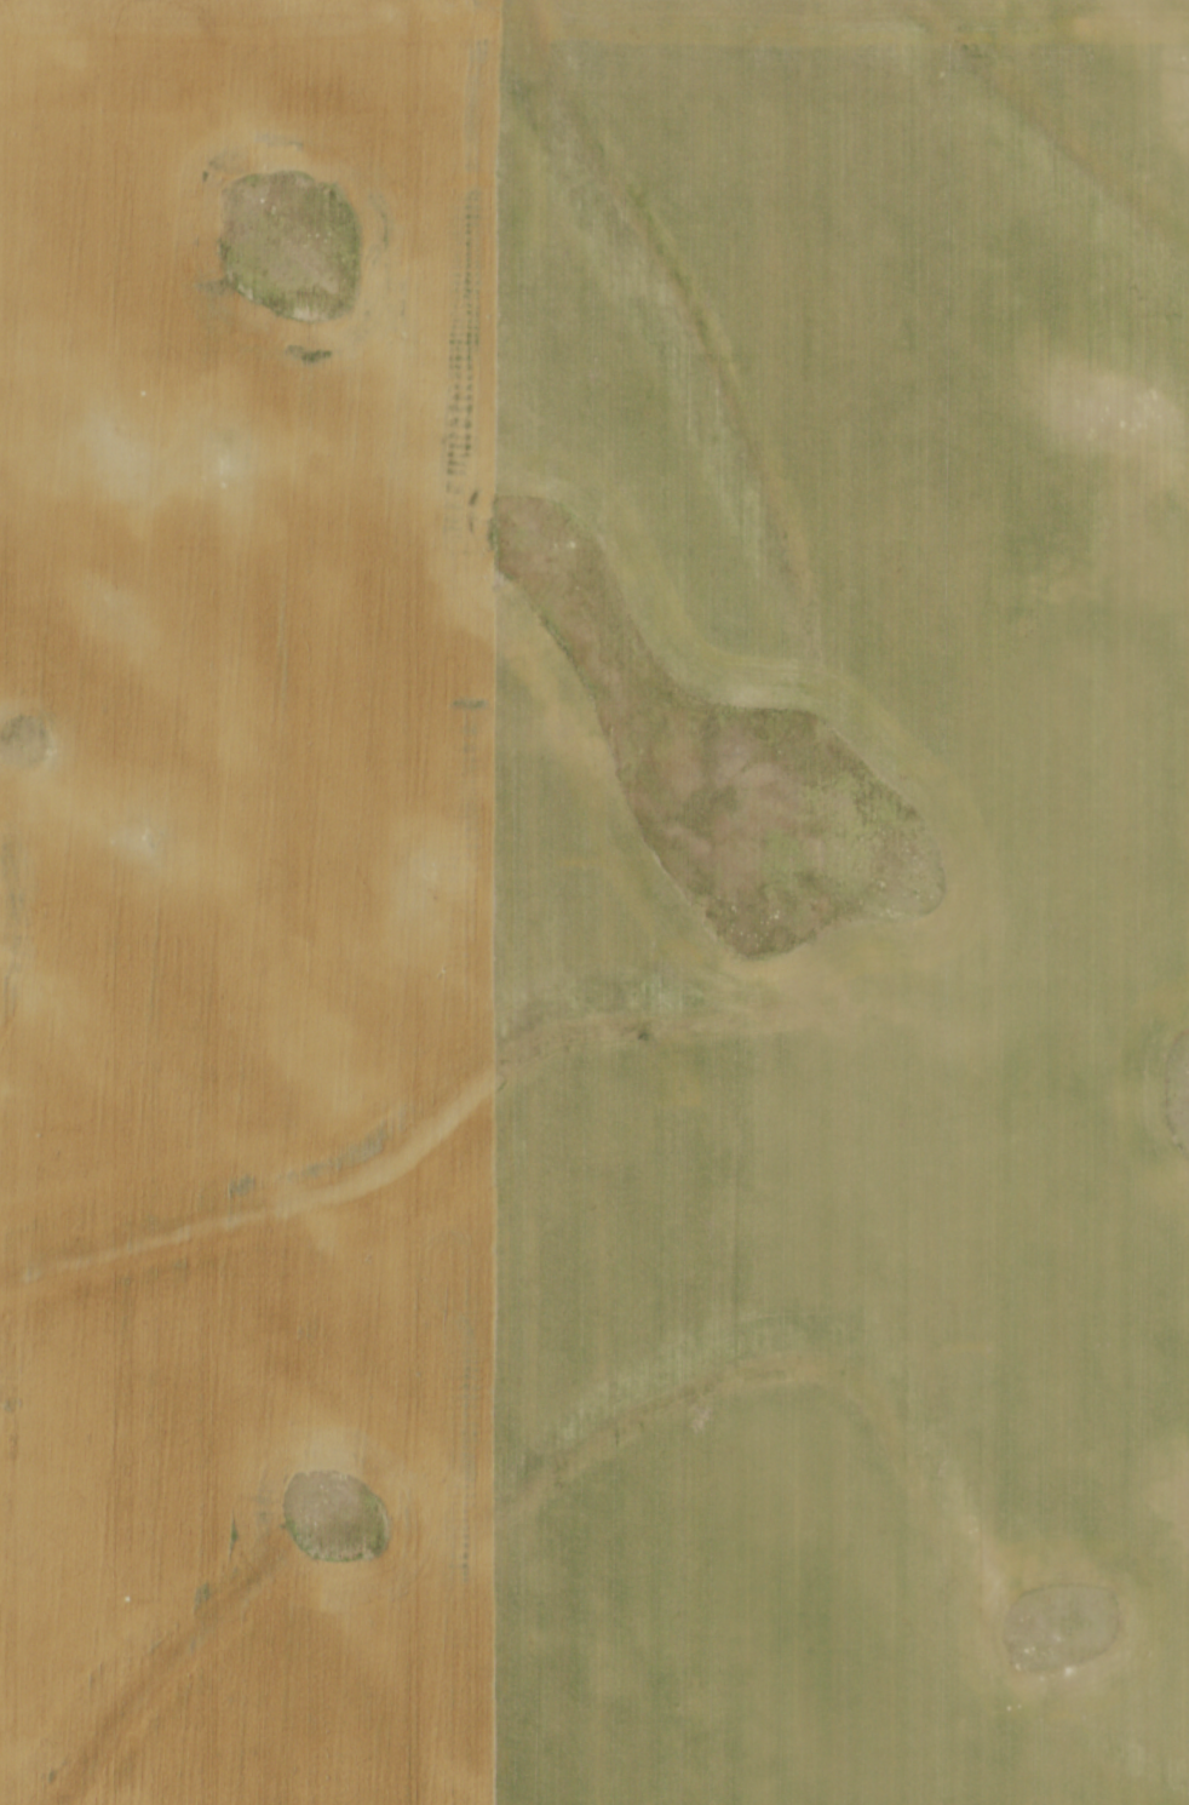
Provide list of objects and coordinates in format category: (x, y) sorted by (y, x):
crop: (594, 903)

